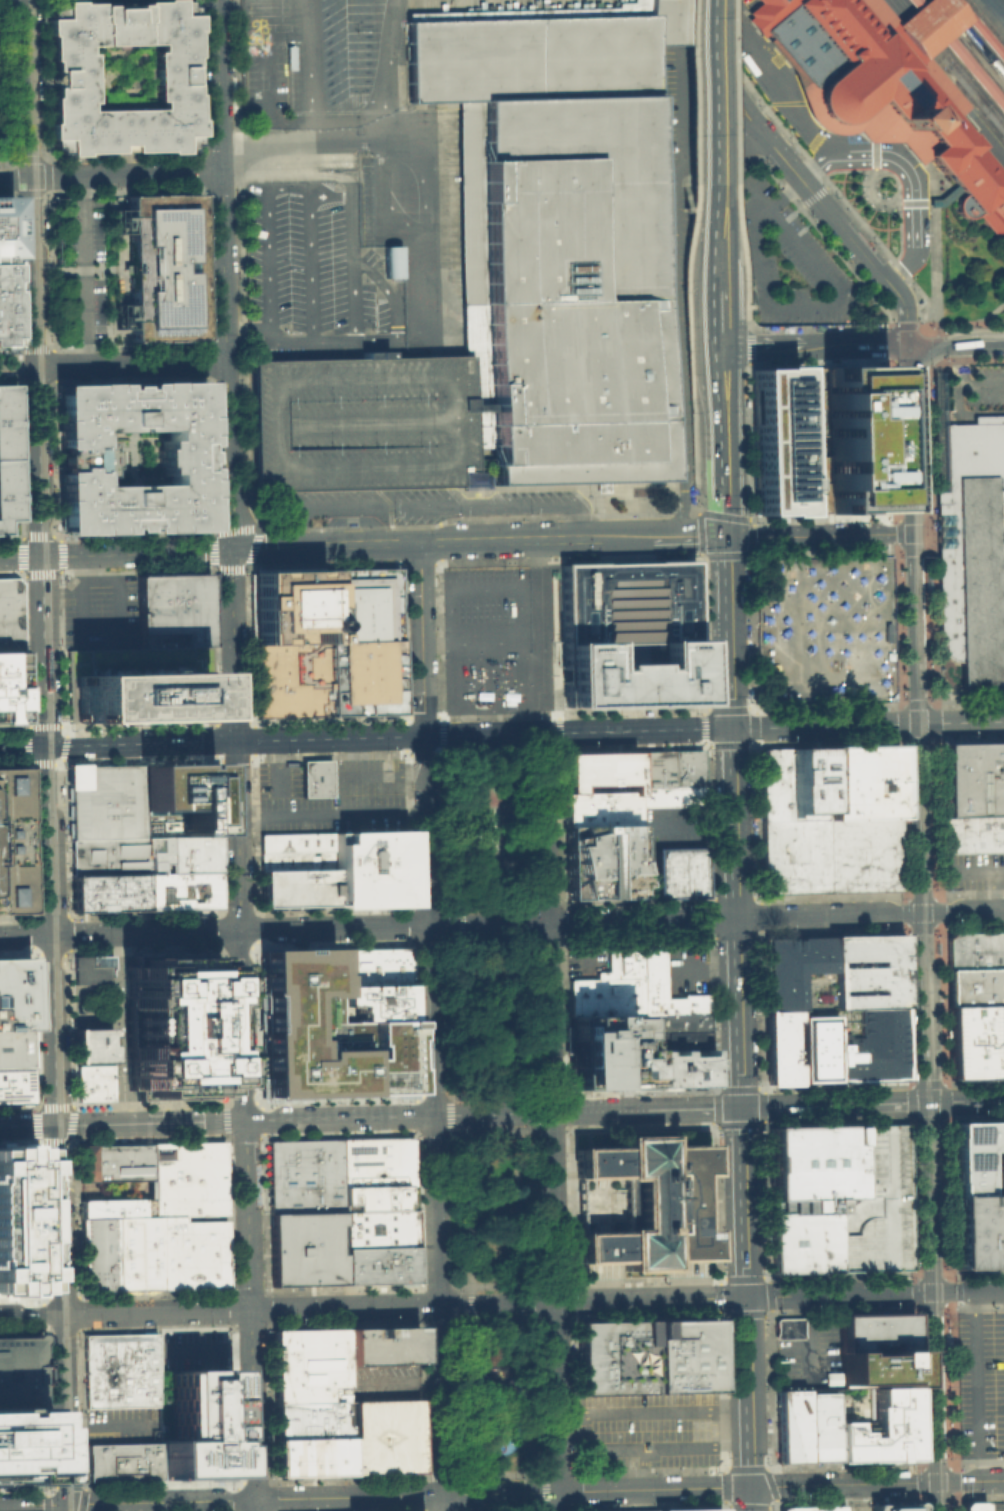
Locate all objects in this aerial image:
road: (952, 3)
railway: (944, 4)
railway: (986, 20)
road: (926, 25)
railway: (981, 26)
railway: (975, 33)
railway: (975, 41)
railway: (966, 44)
railway: (962, 49)
building: (942, 54)
parking lot: (306, 56)
railway: (955, 58)
railway: (952, 61)
road: (838, 62)
road: (311, 65)
railway: (946, 68)
road: (268, 70)
railway: (943, 72)
road: (828, 73)
building: (176, 78)
road: (767, 79)
building: (886, 79)
park: (3, 83)
road: (941, 85)
road: (868, 89)
road: (731, 90)
road: (693, 91)
road: (714, 91)
road: (734, 97)
road: (792, 99)
road: (680, 102)
road: (380, 129)
road: (938, 140)
road: (941, 141)
road: (990, 145)
road: (414, 146)
road: (919, 150)
road: (724, 151)
road: (874, 153)
road: (951, 154)
road: (26, 157)
road: (810, 163)
road: (815, 168)
road: (688, 169)
road: (201, 171)
road: (110, 175)
road: (294, 175)
road: (220, 180)
road: (914, 189)
road: (813, 195)
road: (870, 196)
road: (917, 203)
road: (769, 205)
road: (693, 209)
road: (735, 209)
road: (789, 215)
road: (41, 218)
road: (270, 218)
road: (843, 230)
railway: (45, 231)
building: (560, 231)
road: (717, 236)
parking lot: (311, 260)
building: (392, 260)
parking lot: (788, 262)
road: (934, 263)
building: (161, 266)
road: (355, 267)
road: (313, 268)
road: (738, 268)
building: (5, 269)
road: (50, 269)
road: (67, 269)
parking lot: (81, 270)
road: (84, 270)
road: (754, 279)
road: (744, 281)
road: (856, 285)
road: (389, 293)
road: (809, 304)
road: (749, 307)
road: (904, 309)
road: (718, 319)
road: (963, 322)
road: (911, 324)
road: (826, 326)
road: (691, 334)
road: (936, 335)
road: (377, 339)
road: (287, 341)
road: (846, 342)
road: (898, 342)
road: (760, 344)
traffic signals: (907, 344)
road: (955, 344)
road: (747, 345)
railway: (938, 345)
road: (352, 348)
road: (681, 348)
road: (208, 361)
road: (130, 363)
road: (959, 364)
road: (17, 366)
road: (52, 366)
road: (747, 366)
road: (18, 367)
road: (352, 370)
road: (36, 372)
road: (959, 386)
road: (226, 408)
road: (722, 415)
road: (988, 417)
building: (359, 421)
parking lot: (359, 421)
road: (362, 424)
building: (857, 438)
road: (906, 438)
building: (774, 439)
building: (80, 453)
building: (7, 456)
road: (451, 466)
building: (475, 478)
road: (693, 486)
road: (229, 503)
road: (434, 510)
road: (726, 511)
road: (911, 516)
road: (746, 519)
road: (354, 520)
road: (927, 524)
road: (896, 531)
traffic signals: (912, 534)
road: (819, 535)
road: (698, 538)
traffic signals: (728, 538)
road: (544, 539)
building: (969, 541)
road: (324, 545)
road: (912, 547)
traffic signals: (230, 550)
road: (137, 553)
road: (21, 556)
road: (249, 556)
road: (729, 574)
road: (120, 591)
building: (365, 604)
building: (292, 606)
building: (170, 608)
parking lot: (97, 610)
building: (9, 614)
road: (82, 619)
road: (914, 627)
building: (627, 633)
parking lot: (501, 636)
road: (536, 636)
road: (421, 638)
road: (732, 669)
building: (367, 678)
building: (294, 680)
building: (137, 683)
railway: (936, 686)
building: (10, 687)
road: (916, 703)
road: (967, 703)
road: (754, 706)
road: (438, 716)
road: (901, 721)
road: (932, 721)
road: (960, 721)
traffic signals: (916, 722)
road: (825, 725)
traffic signals: (734, 727)
road: (439, 735)
road: (366, 736)
road: (252, 739)
road: (916, 739)
road: (513, 742)
road: (753, 742)
traffic signals: (45, 746)
road: (519, 750)
road: (477, 752)
railway: (49, 755)
road: (59, 760)
road: (282, 766)
building: (668, 768)
building: (598, 771)
building: (318, 776)
road: (370, 776)
road: (346, 777)
building: (972, 778)
building: (860, 781)
building: (806, 783)
park: (485, 785)
road: (55, 786)
building: (669, 796)
parking lot: (333, 797)
railway: (60, 801)
building: (179, 801)
building: (106, 803)
building: (599, 808)
road: (331, 814)
road: (918, 817)
road: (735, 822)
road: (525, 827)
road: (542, 827)
road: (691, 827)
park: (496, 828)
park: (483, 829)
road: (425, 830)
road: (442, 830)
building: (973, 833)
road: (237, 834)
road: (65, 839)
road: (47, 840)
building: (12, 842)
building: (297, 842)
building: (820, 843)
building: (180, 856)
building: (107, 857)
building: (298, 859)
building: (600, 861)
building: (370, 867)
parking lot: (973, 869)
road: (976, 869)
building: (679, 871)
road: (647, 874)
park: (487, 884)
building: (299, 887)
road: (991, 890)
building: (181, 891)
building: (109, 893)
road: (518, 904)
road: (485, 905)
road: (452, 906)
road: (961, 912)
traffic signals: (920, 914)
road: (829, 916)
road: (68, 917)
road: (510, 920)
road: (460, 921)
road: (642, 921)
road: (485, 924)
road: (238, 931)
road: (25, 936)
road: (486, 937)
road: (919, 939)
building: (975, 949)
railway: (923, 950)
parking lot: (584, 958)
building: (651, 958)
building: (621, 959)
building: (374, 966)
parking lot: (684, 966)
building: (93, 968)
building: (866, 970)
building: (796, 972)
road: (75, 983)
building: (975, 986)
building: (14, 993)
building: (604, 995)
building: (379, 1002)
road: (741, 1012)
road: (514, 1014)
road: (463, 1016)
building: (675, 1021)
building: (173, 1025)
road: (119, 1027)
road: (52, 1029)
building: (327, 1033)
road: (921, 1033)
building: (675, 1040)
building: (975, 1041)
building: (95, 1045)
building: (867, 1045)
building: (780, 1046)
building: (813, 1046)
building: (15, 1048)
building: (605, 1051)
building: (675, 1067)
building: (96, 1083)
building: (16, 1084)
road: (526, 1093)
road: (491, 1094)
road: (457, 1095)
road: (963, 1100)
traffic signals: (924, 1102)
road: (834, 1104)
traffic signals: (744, 1107)
road: (536, 1111)
road: (449, 1113)
road: (432, 1114)
road: (371, 1116)
road: (227, 1120)
traffic signals: (55, 1125)
road: (525, 1129)
road: (490, 1130)
road: (458, 1131)
park: (494, 1133)
road: (69, 1139)
building: (976, 1156)
road: (68, 1161)
building: (124, 1162)
building: (89, 1163)
building: (379, 1175)
building: (307, 1177)
building: (188, 1180)
road: (927, 1196)
building: (837, 1198)
building: (646, 1202)
parking lot: (875, 1203)
road: (517, 1207)
road: (468, 1208)
building: (117, 1209)
road: (552, 1216)
road: (75, 1217)
building: (18, 1220)
building: (380, 1230)
building: (977, 1230)
building: (307, 1248)
building: (139, 1254)
building: (193, 1254)
building: (100, 1255)
building: (381, 1265)
road: (931, 1275)
road: (495, 1285)
road: (946, 1290)
road: (916, 1291)
road: (967, 1291)
traffic signals: (931, 1292)
traffic signals: (749, 1296)
road: (78, 1297)
road: (520, 1300)
road: (471, 1301)
road: (465, 1303)
road: (931, 1306)
road: (250, 1309)
road: (749, 1309)
road: (496, 1316)
road: (60, 1317)
building: (787, 1327)
building: (874, 1331)
parking lot: (192, 1344)
building: (382, 1345)
parking lot: (809, 1354)
building: (683, 1355)
building: (613, 1357)
building: (310, 1365)
building: (875, 1367)
building: (121, 1370)
building: (19, 1373)
parking lot: (384, 1381)
road: (402, 1383)
parking lot: (980, 1383)
road: (949, 1385)
road: (977, 1385)
road: (933, 1386)
road: (473, 1395)
road: (522, 1395)
road: (441, 1398)
road: (654, 1412)
building: (193, 1416)
road: (106, 1424)
parking lot: (122, 1426)
building: (803, 1426)
parking lot: (648, 1429)
building: (880, 1429)
building: (385, 1437)
building: (312, 1439)
building: (20, 1446)
road: (655, 1446)
railway: (954, 1455)
building: (123, 1463)
road: (934, 1465)
road: (533, 1473)
road: (459, 1474)
road: (499, 1474)
road: (435, 1475)
road: (951, 1480)
road: (969, 1480)
road: (918, 1481)
traffic signals: (935, 1481)
road: (61, 1484)
road: (747, 1486)
traffic signals: (753, 1486)
road: (543, 1490)
road: (474, 1491)
road: (501, 1493)
road: (349, 1496)
road: (935, 1496)
road: (935, 1496)
road: (159, 1501)
road: (444, 1502)
railway: (941, 1503)
traffic signals: (65, 1504)
road: (732, 1504)
road: (32, 1505)
road: (255, 1505)
building: (971, 1505)
parking lot: (994, 1505)
road: (141, 1506)
building: (893, 1506)
road: (80, 1507)
road: (534, 1507)
building: (812, 1507)
road: (499, 1508)
road: (524, 1509)
building: (688, 1509)
road: (474, 1510)
building: (607, 1510)
building: (638, 1510)

